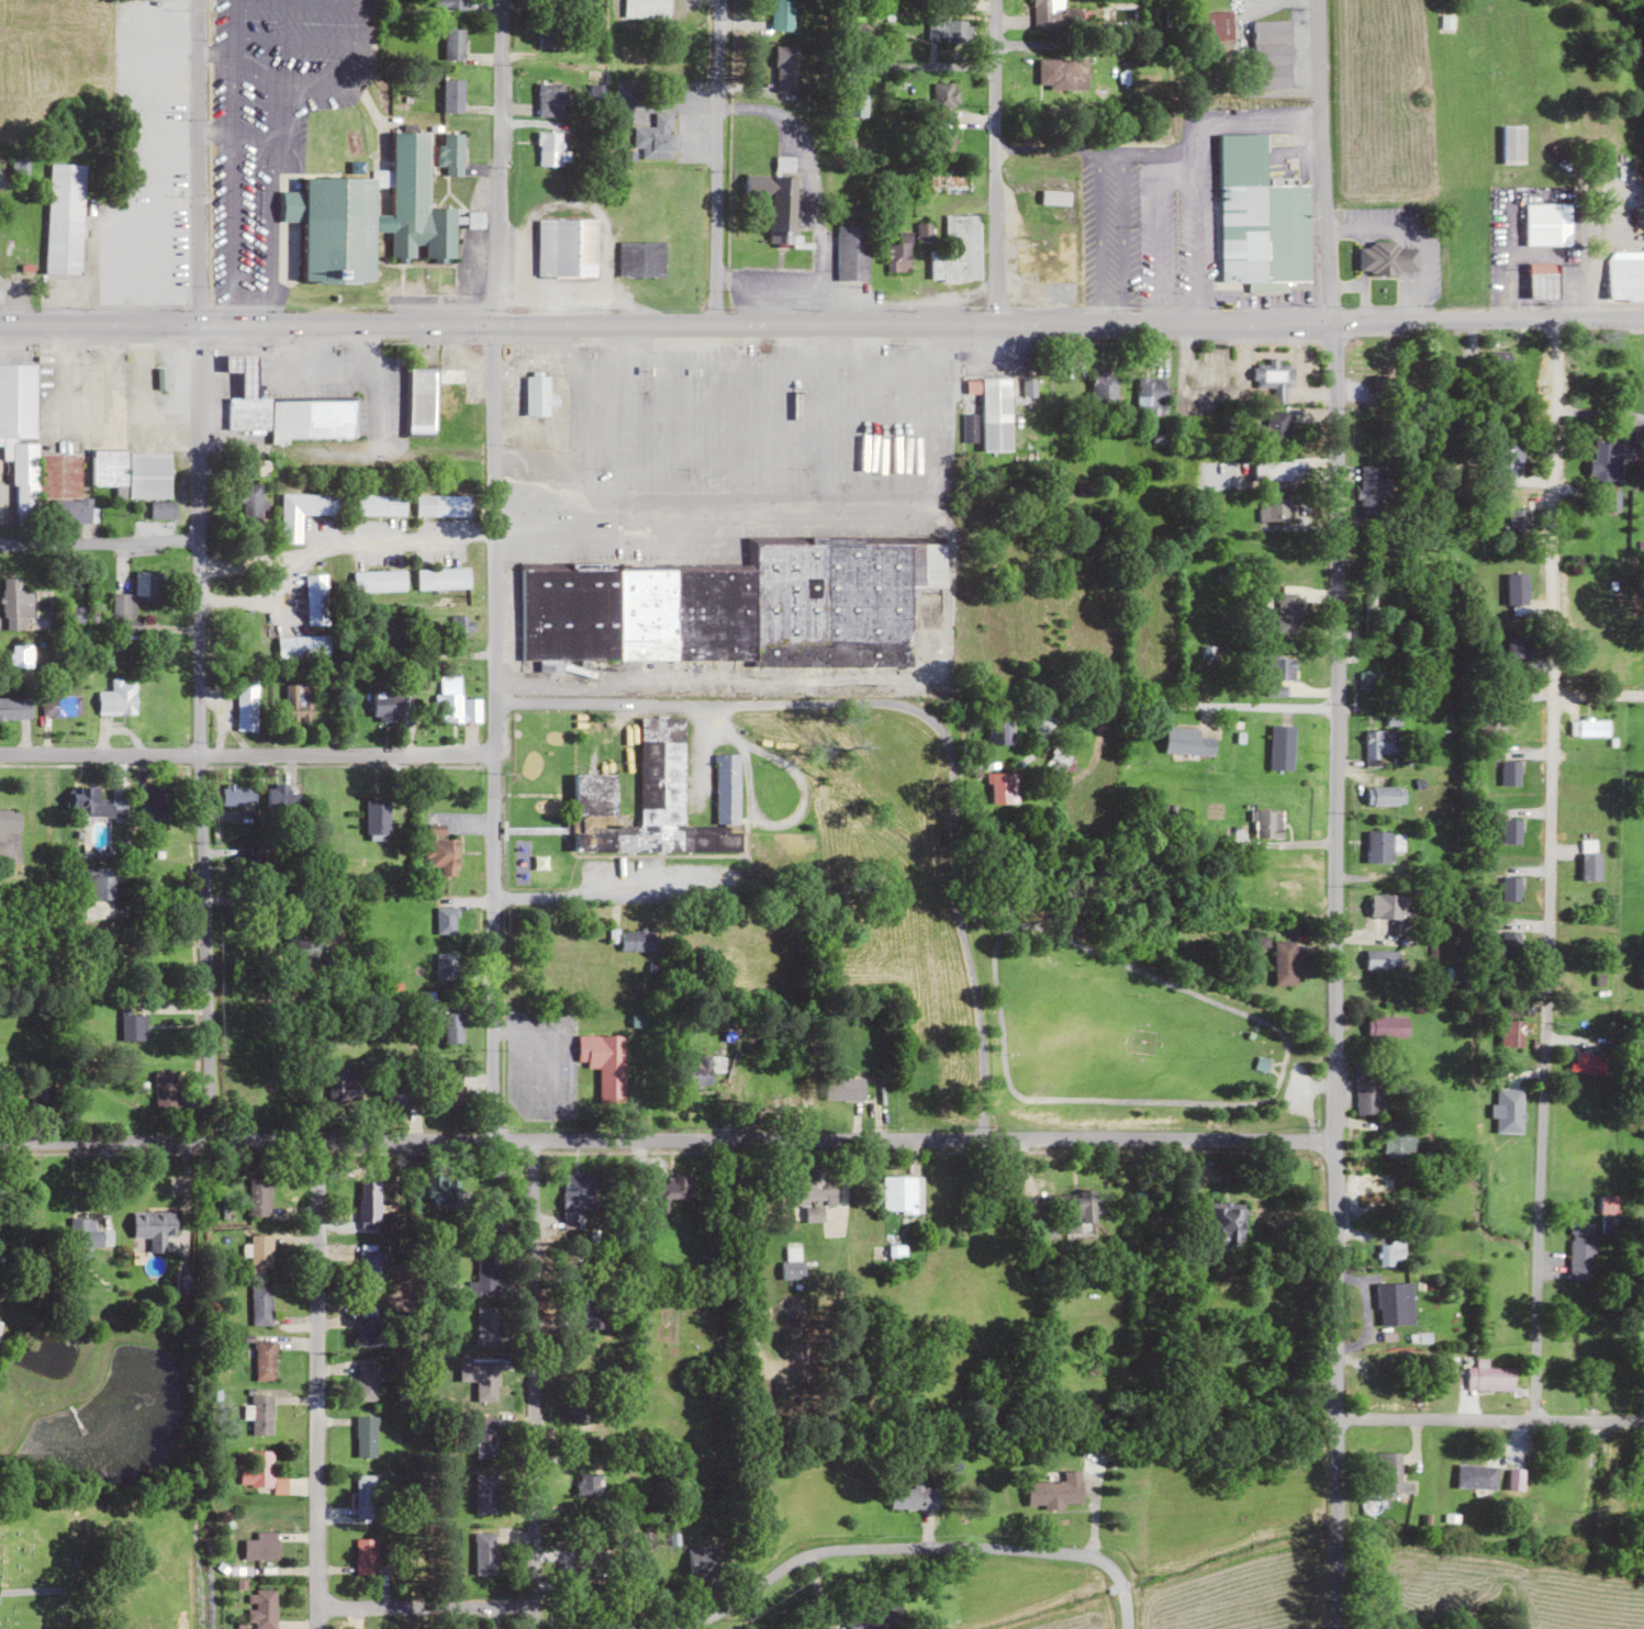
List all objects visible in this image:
building: (148, 0)
building: (550, 0)
road: (905, 4)
building: (451, 5)
building: (646, 9)
building: (781, 14)
building: (1053, 15)
building: (1445, 22)
building: (1215, 25)
building: (948, 31)
building: (550, 33)
building: (454, 44)
building: (1271, 54)
building: (785, 69)
building: (1061, 72)
building: (154, 93)
building: (452, 96)
building: (944, 97)
building: (551, 100)
building: (850, 104)
building: (656, 137)
building: (1512, 145)
building: (550, 149)
building: (449, 154)
road: (194, 161)
road: (495, 161)
road: (713, 161)
road: (989, 161)
road: (1322, 161)
building: (19, 167)
road: (1517, 176)
building: (953, 183)
building: (1054, 198)
building: (783, 210)
building: (370, 216)
building: (1259, 217)
building: (64, 218)
building: (474, 220)
building: (1545, 227)
building: (566, 248)
building: (957, 251)
building: (851, 254)
building: (898, 254)
building: (135, 256)
building: (1027, 257)
building: (640, 259)
building: (1388, 259)
building: (19, 265)
building: (1544, 281)
road: (821, 324)
building: (1272, 382)
building: (1103, 387)
building: (1385, 387)
building: (450, 390)
building: (537, 396)
building: (1151, 396)
building: (421, 402)
building: (283, 411)
building: (994, 413)
building: (1270, 427)
building: (969, 429)
building: (1610, 459)
building: (36, 460)
building: (1280, 470)
building: (133, 473)
building: (1372, 491)
building: (1613, 501)
building: (250, 503)
building: (379, 505)
building: (441, 505)
building: (165, 510)
building: (303, 513)
building: (1271, 514)
building: (1519, 523)
road: (96, 546)
building: (443, 578)
building: (378, 581)
building: (1517, 593)
building: (135, 599)
building: (315, 600)
building: (14, 605)
building: (737, 608)
building: (1286, 614)
building: (1369, 618)
building: (302, 647)
building: (20, 656)
building: (1280, 675)
building: (1372, 682)
road: (1597, 696)
building: (118, 698)
building: (299, 703)
road: (713, 703)
building: (246, 705)
building: (387, 705)
building: (455, 705)
road: (1208, 705)
building: (60, 707)
building: (14, 708)
building: (1592, 729)
building: (998, 732)
road: (195, 733)
road: (491, 733)
building: (1189, 742)
building: (1380, 743)
building: (1282, 749)
road: (245, 754)
building: (1510, 773)
building: (662, 775)
building: (726, 787)
building: (1000, 787)
building: (237, 795)
building: (1386, 795)
building: (283, 798)
building: (98, 802)
building: (156, 802)
building: (597, 816)
building: (377, 818)
building: (9, 820)
building: (1265, 823)
building: (1510, 832)
building: (1380, 845)
building: (441, 851)
building: (1590, 860)
road: (1544, 870)
building: (99, 883)
building: (1289, 888)
building: (1511, 889)
road: (572, 897)
building: (1393, 909)
road: (959, 929)
building: (636, 940)
building: (304, 941)
building: (1510, 945)
building: (1382, 960)
building: (1285, 963)
road: (1332, 975)
building: (1387, 1026)
building: (450, 1027)
building: (132, 1030)
building: (1512, 1033)
building: (604, 1063)
building: (1588, 1063)
building: (700, 1071)
building: (343, 1086)
building: (843, 1088)
building: (165, 1090)
building: (451, 1092)
building: (1366, 1094)
road: (666, 1141)
building: (1399, 1141)
building: (671, 1187)
building: (3, 1188)
building: (1376, 1188)
building: (445, 1189)
building: (814, 1190)
building: (902, 1193)
building: (258, 1197)
building: (368, 1201)
building: (578, 1203)
building: (1067, 1211)
building: (1226, 1224)
building: (91, 1226)
building: (154, 1227)
building: (1611, 1227)
building: (1581, 1246)
building: (259, 1251)
building: (1390, 1252)
building: (791, 1261)
building: (367, 1267)
building: (484, 1270)
building: (1395, 1303)
building: (259, 1304)
building: (589, 1310)
building: (485, 1325)
building: (372, 1334)
building: (264, 1357)
building: (1489, 1377)
building: (366, 1380)
building: (485, 1382)
road: (315, 1384)
road: (527, 1385)
building: (1378, 1394)
building: (571, 1411)
building: (260, 1414)
road: (1488, 1420)
building: (366, 1436)
building: (484, 1437)
building: (257, 1469)
building: (1390, 1473)
building: (1476, 1475)
building: (589, 1483)
building: (1056, 1491)
building: (484, 1493)
building: (366, 1495)
building: (913, 1497)
building: (261, 1546)
road: (915, 1548)
building: (484, 1553)
building: (366, 1557)
building: (701, 1563)
building: (594, 1591)
road: (423, 1606)
building: (264, 1609)
building: (877, 1617)
building: (823, 1628)

